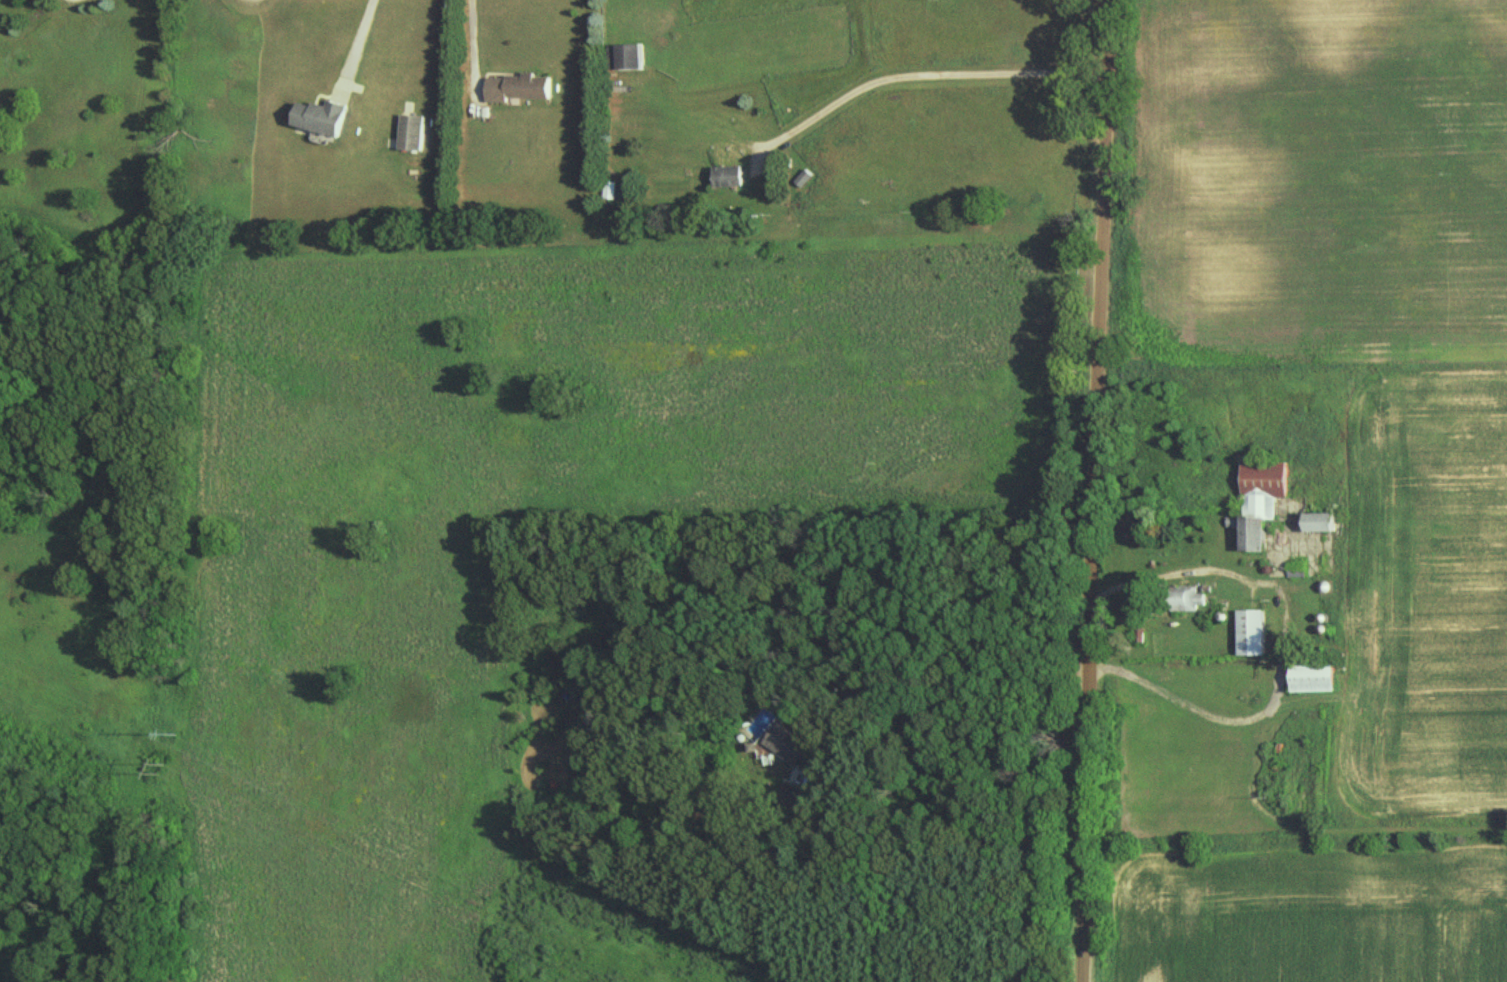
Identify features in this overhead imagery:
road: (360, 39)
road: (469, 50)
building: (626, 57)
road: (918, 73)
building: (519, 88)
building: (325, 118)
building: (414, 133)
building: (730, 175)
building: (806, 178)
building: (606, 190)
road: (1092, 491)
building: (1265, 507)
building: (1135, 521)
building: (1326, 523)
building: (1194, 599)
building: (1255, 633)
building: (1318, 677)
road: (941, 706)
power tower: (179, 733)
building: (789, 744)
power tower: (163, 771)

